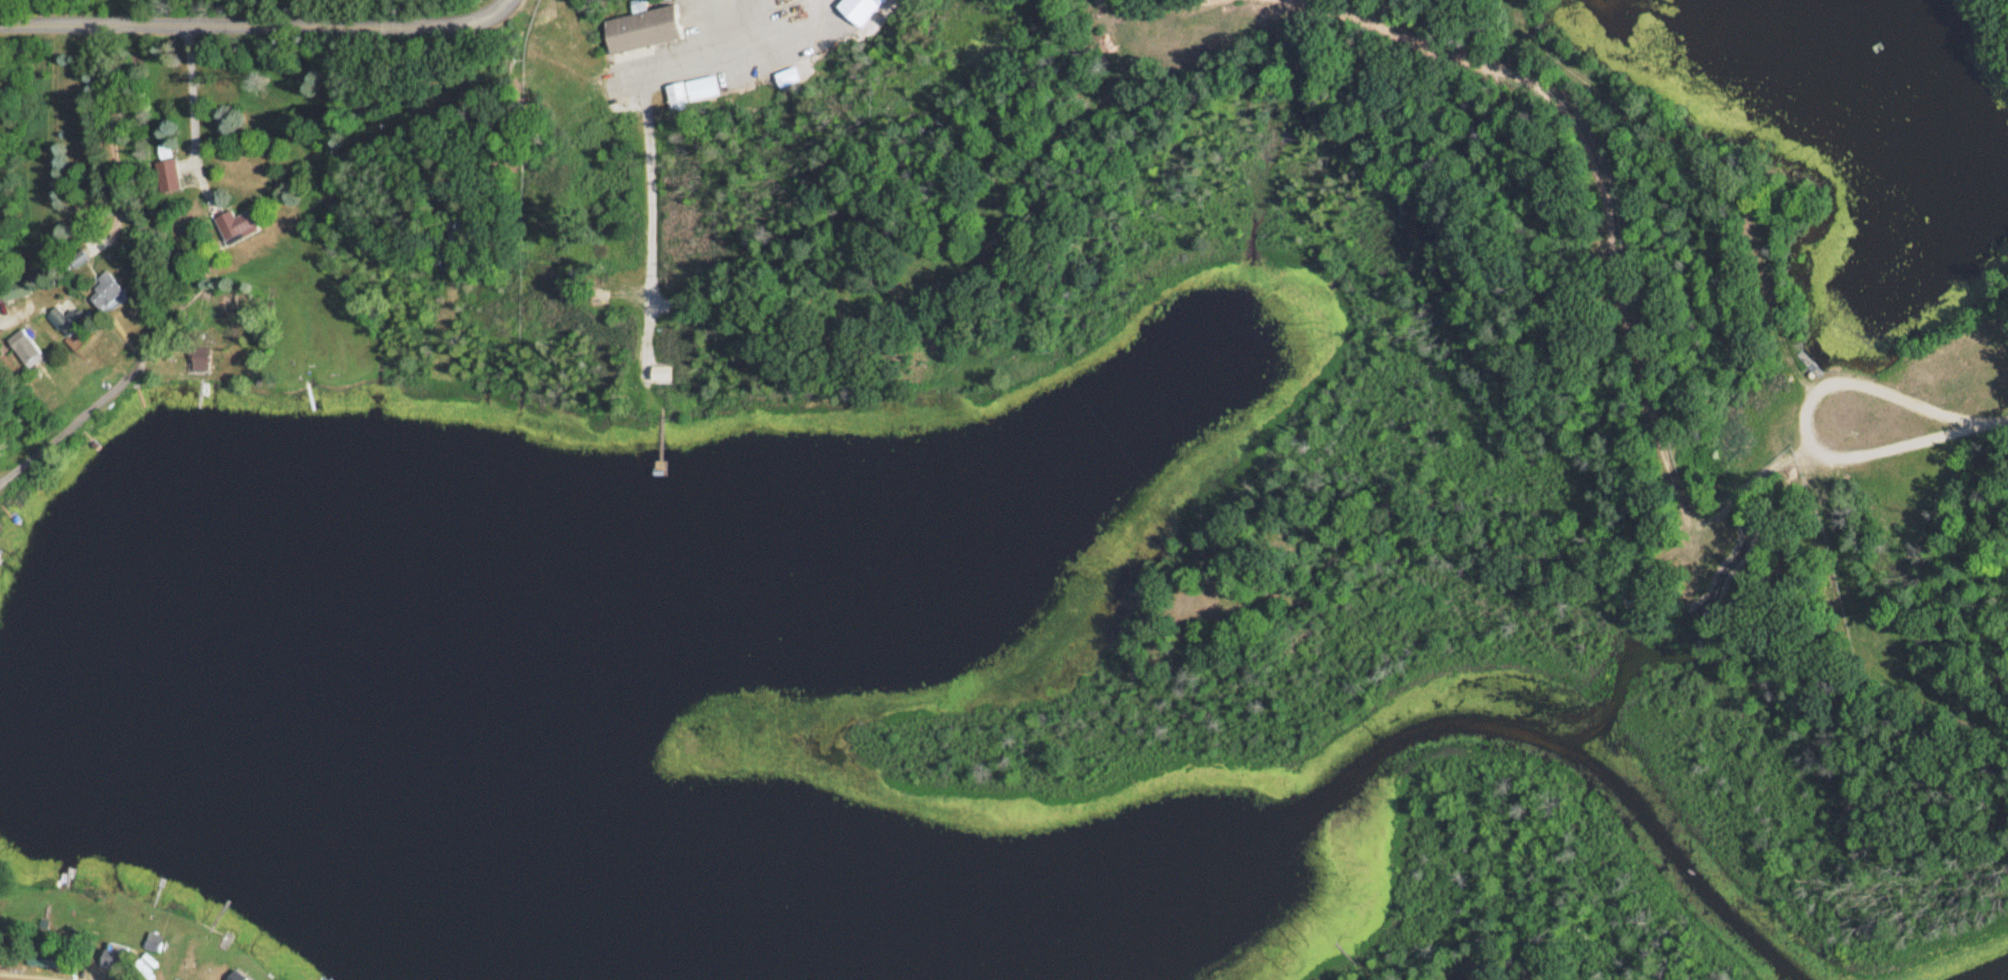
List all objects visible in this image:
road: (497, 7)
road: (1148, 7)
building: (866, 11)
road: (245, 21)
building: (650, 30)
road: (702, 63)
building: (697, 93)
building: (2, 98)
road: (191, 107)
building: (173, 177)
road: (990, 186)
road: (638, 210)
building: (241, 225)
building: (19, 291)
building: (116, 293)
road: (12, 315)
building: (75, 323)
road: (1621, 331)
building: (31, 348)
building: (665, 374)
road: (83, 407)
road: (1316, 635)
building: (118, 960)
building: (52, 963)
building: (240, 976)
road: (14, 977)

